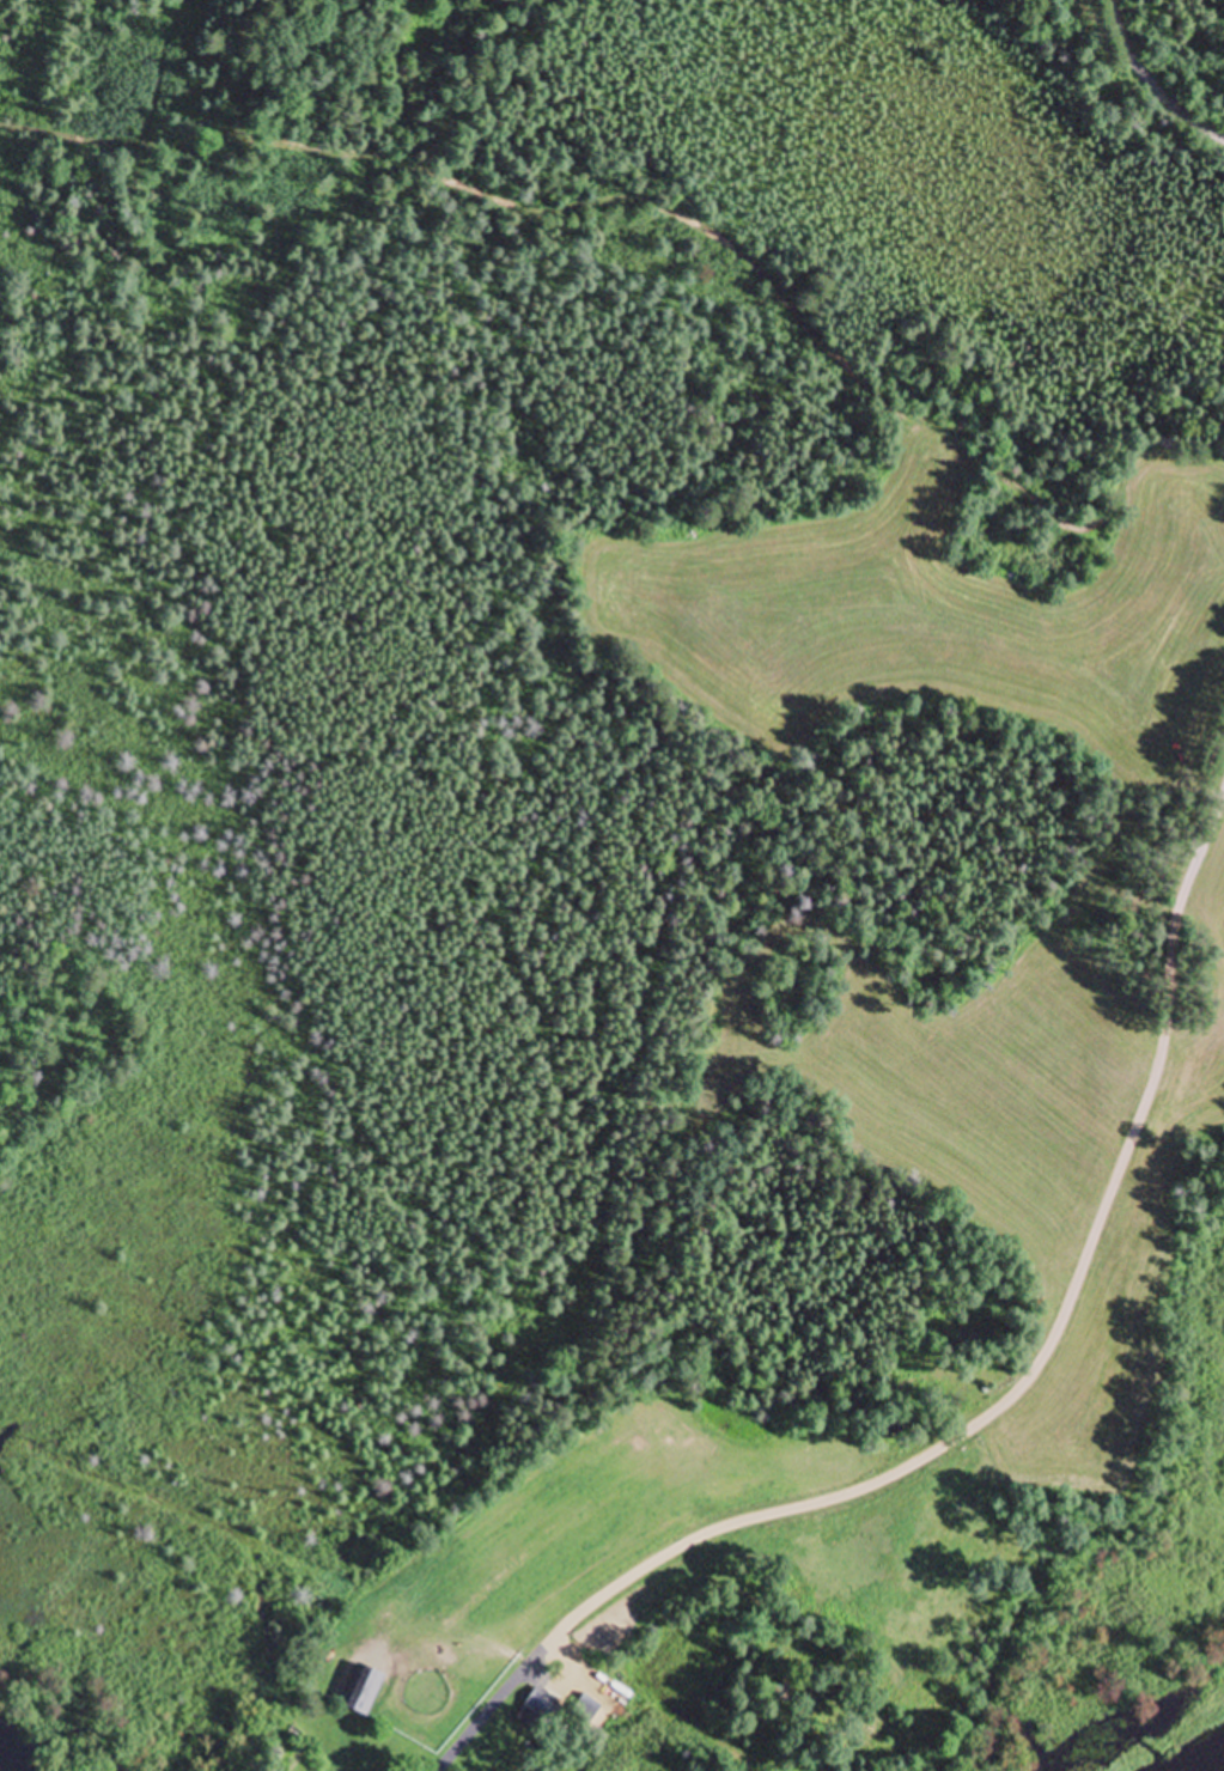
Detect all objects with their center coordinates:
building: (428, 1)
road: (1150, 81)
road: (1037, 1369)
building: (365, 1690)
building: (590, 1708)
building: (541, 1710)
river: (1213, 1766)

